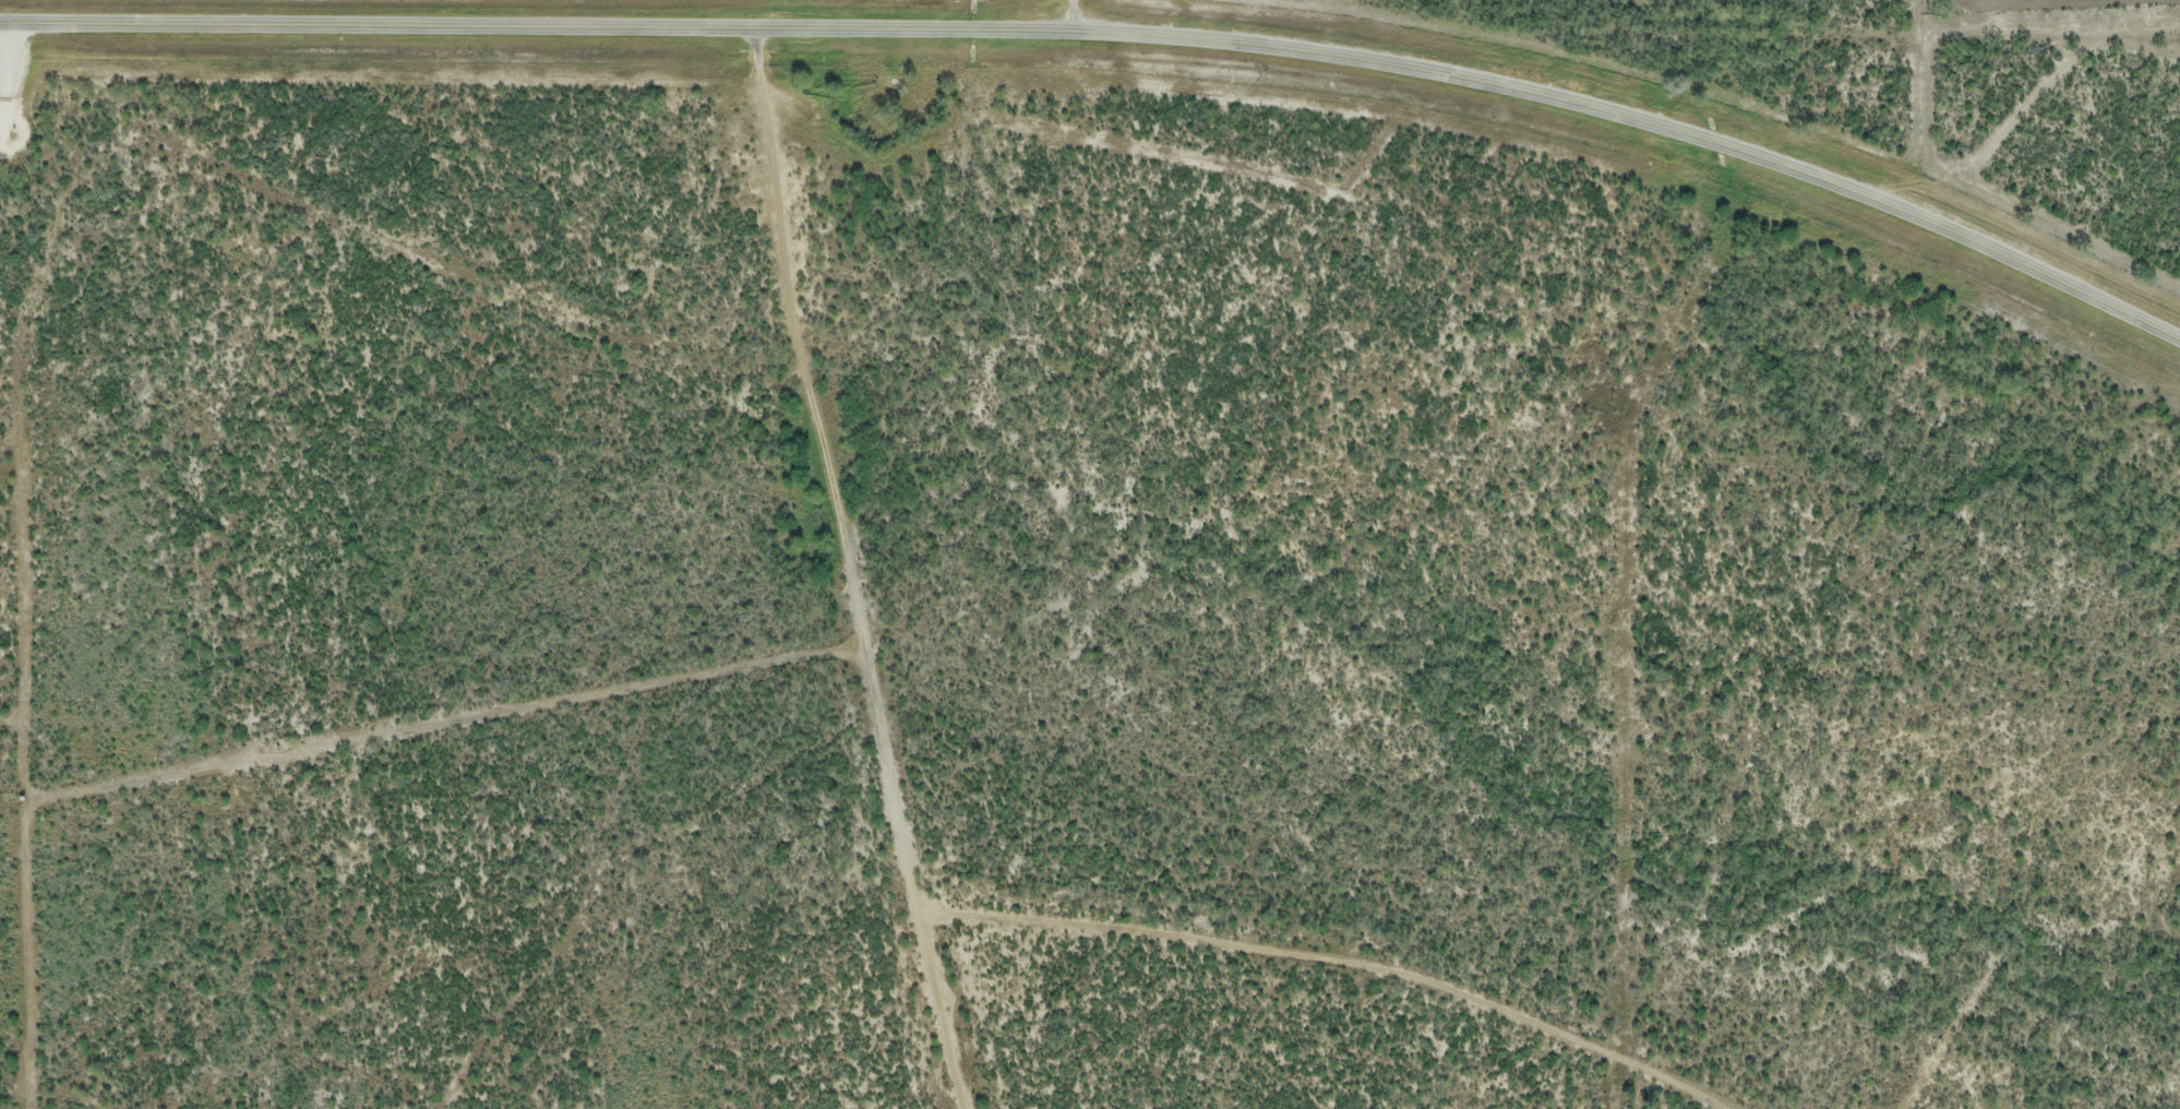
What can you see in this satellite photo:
road: (1073, 16)
road: (1115, 34)

